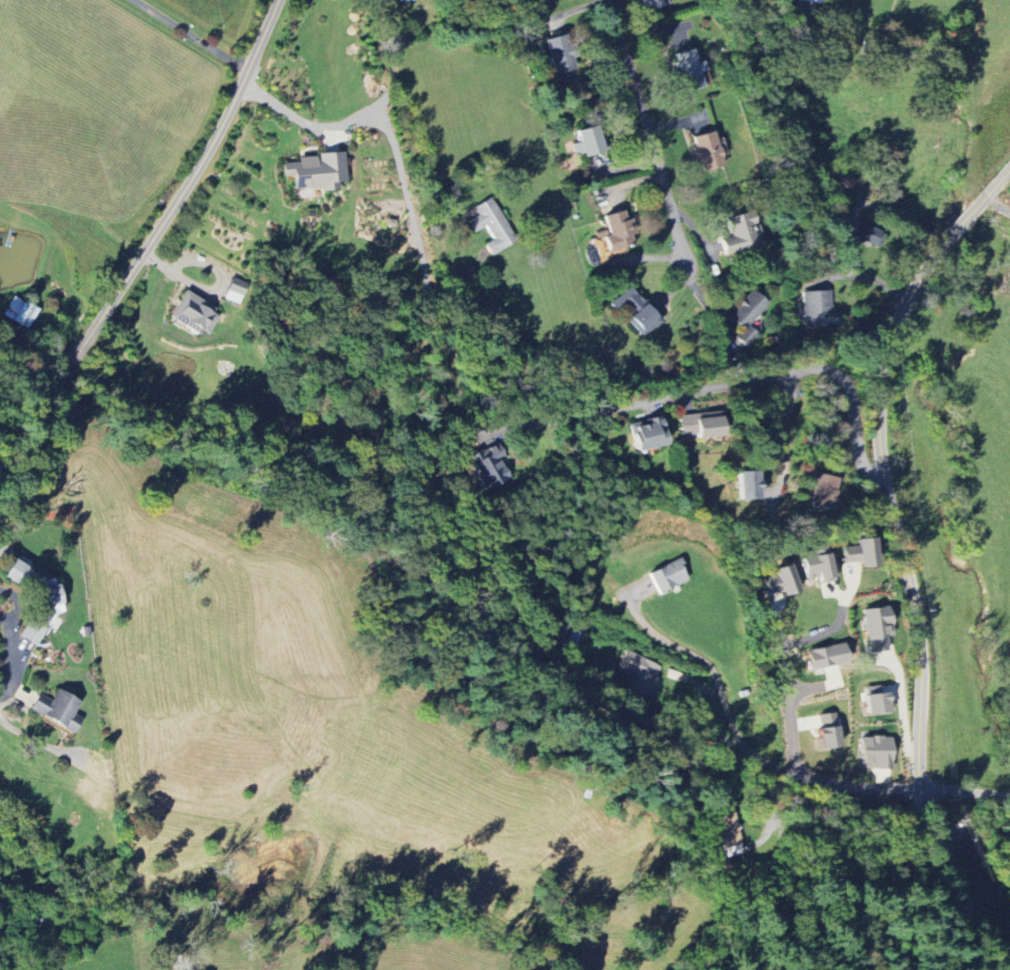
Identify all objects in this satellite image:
building: (811, 1)
building: (651, 4)
road: (380, 6)
road: (190, 37)
building: (559, 55)
building: (690, 70)
road: (284, 110)
road: (651, 132)
building: (591, 140)
building: (708, 150)
building: (316, 171)
road: (1000, 203)
building: (492, 225)
building: (618, 231)
building: (742, 232)
building: (871, 235)
road: (152, 239)
road: (869, 275)
building: (747, 309)
building: (819, 309)
building: (637, 310)
building: (20, 312)
building: (193, 313)
building: (746, 336)
road: (729, 383)
road: (789, 432)
building: (648, 433)
building: (488, 466)
building: (749, 485)
building: (824, 490)
building: (861, 553)
road: (905, 562)
building: (817, 563)
building: (667, 576)
building: (782, 581)
road: (16, 602)
building: (878, 628)
road: (823, 631)
building: (826, 656)
building: (641, 673)
road: (788, 696)
building: (876, 701)
building: (57, 710)
building: (828, 731)
road: (739, 737)
building: (876, 752)
road: (966, 793)
building: (730, 834)

